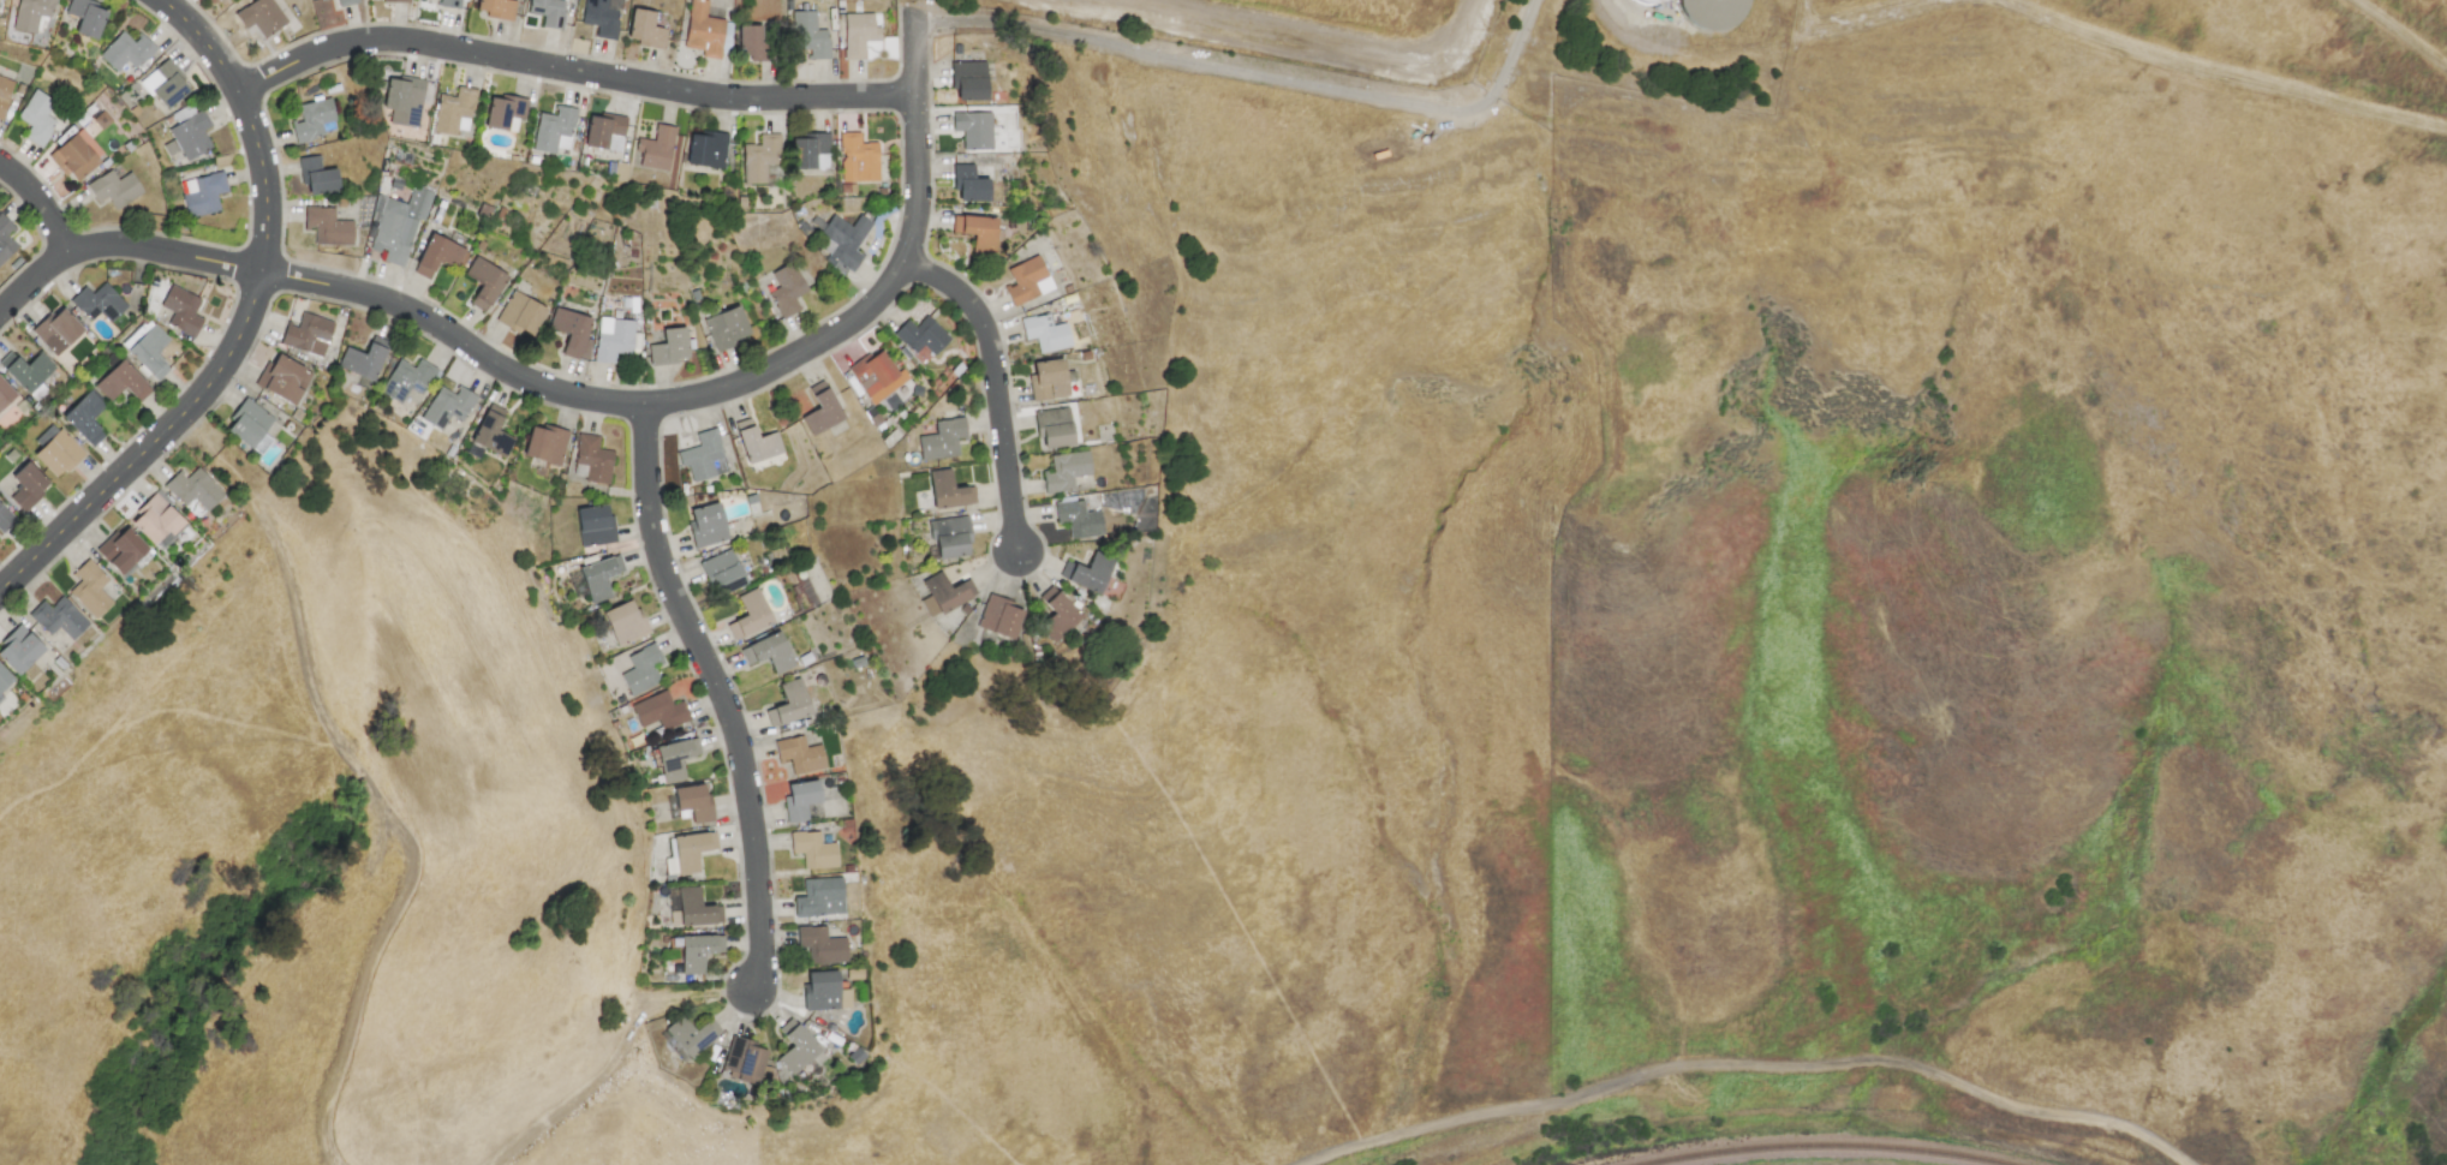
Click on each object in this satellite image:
building: (320, 0)
building: (395, 1)
building: (346, 2)
building: (447, 4)
building: (497, 8)
building: (1715, 11)
storage tank: (1715, 11)
building: (548, 12)
building: (31, 13)
building: (86, 17)
building: (261, 17)
building: (601, 17)
street lamp: (414, 23)
building: (645, 29)
building: (702, 29)
road: (2398, 34)
building: (808, 35)
building: (858, 35)
road: (1300, 35)
building: (747, 40)
road: (202, 41)
road: (2124, 44)
building: (126, 52)
road: (571, 71)
street lamp: (787, 78)
building: (968, 78)
road: (1255, 79)
building: (165, 84)
building: (5, 92)
street lamp: (591, 94)
building: (402, 101)
street lamp: (933, 106)
building: (453, 110)
building: (505, 113)
building: (38, 116)
building: (315, 120)
building: (553, 130)
building: (601, 130)
building: (973, 130)
building: (189, 137)
building: (655, 148)
building: (706, 149)
building: (810, 151)
building: (76, 155)
road: (258, 156)
building: (759, 159)
building: (855, 161)
building: (317, 177)
building: (969, 184)
building: (114, 189)
building: (202, 195)
road: (38, 204)
building: (399, 225)
building: (327, 227)
building: (979, 232)
street lamp: (244, 235)
building: (5, 239)
building: (842, 240)
road: (262, 249)
building: (438, 256)
building: (1027, 281)
building: (483, 283)
building: (764, 283)
street lamp: (48, 288)
building: (787, 289)
street lamp: (857, 292)
building: (96, 301)
building: (181, 311)
building: (520, 315)
building: (726, 325)
building: (56, 330)
building: (572, 333)
building: (1045, 333)
building: (308, 334)
building: (921, 336)
building: (613, 339)
building: (669, 347)
building: (149, 352)
building: (363, 359)
street lamp: (1009, 363)
building: (25, 371)
building: (877, 376)
building: (405, 378)
building: (285, 381)
building: (1048, 381)
building: (121, 383)
road: (995, 384)
building: (5, 394)
road: (573, 394)
building: (447, 406)
building: (820, 410)
building: (84, 418)
building: (247, 424)
building: (1054, 426)
building: (491, 432)
building: (942, 440)
building: (756, 442)
building: (545, 444)
road: (151, 447)
building: (58, 454)
building: (706, 456)
building: (591, 460)
building: (1064, 471)
building: (26, 485)
building: (193, 489)
building: (948, 490)
building: (4, 518)
building: (1078, 519)
building: (155, 520)
building: (706, 525)
building: (593, 526)
building: (949, 537)
building: (121, 550)
building: (722, 572)
building: (1090, 573)
building: (598, 578)
street lamp: (1020, 582)
building: (808, 586)
building: (89, 589)
street lamp: (647, 589)
building: (947, 592)
building: (751, 613)
building: (999, 617)
building: (1057, 617)
building: (58, 619)
building: (623, 622)
building: (18, 650)
building: (768, 652)
building: (641, 670)
building: (4, 679)
street lamp: (742, 694)
road: (723, 697)
building: (790, 703)
building: (658, 711)
building: (799, 754)
building: (674, 758)
building: (800, 800)
building: (693, 802)
road: (875, 834)
building: (812, 850)
building: (687, 853)
street lamp: (738, 879)
building: (819, 897)
building: (692, 907)
building: (820, 945)
building: (697, 951)
building: (824, 992)
street lamp: (759, 1021)
building: (692, 1035)
building: (798, 1052)
building: (745, 1058)
road: (615, 1062)
railway: (1824, 1147)

